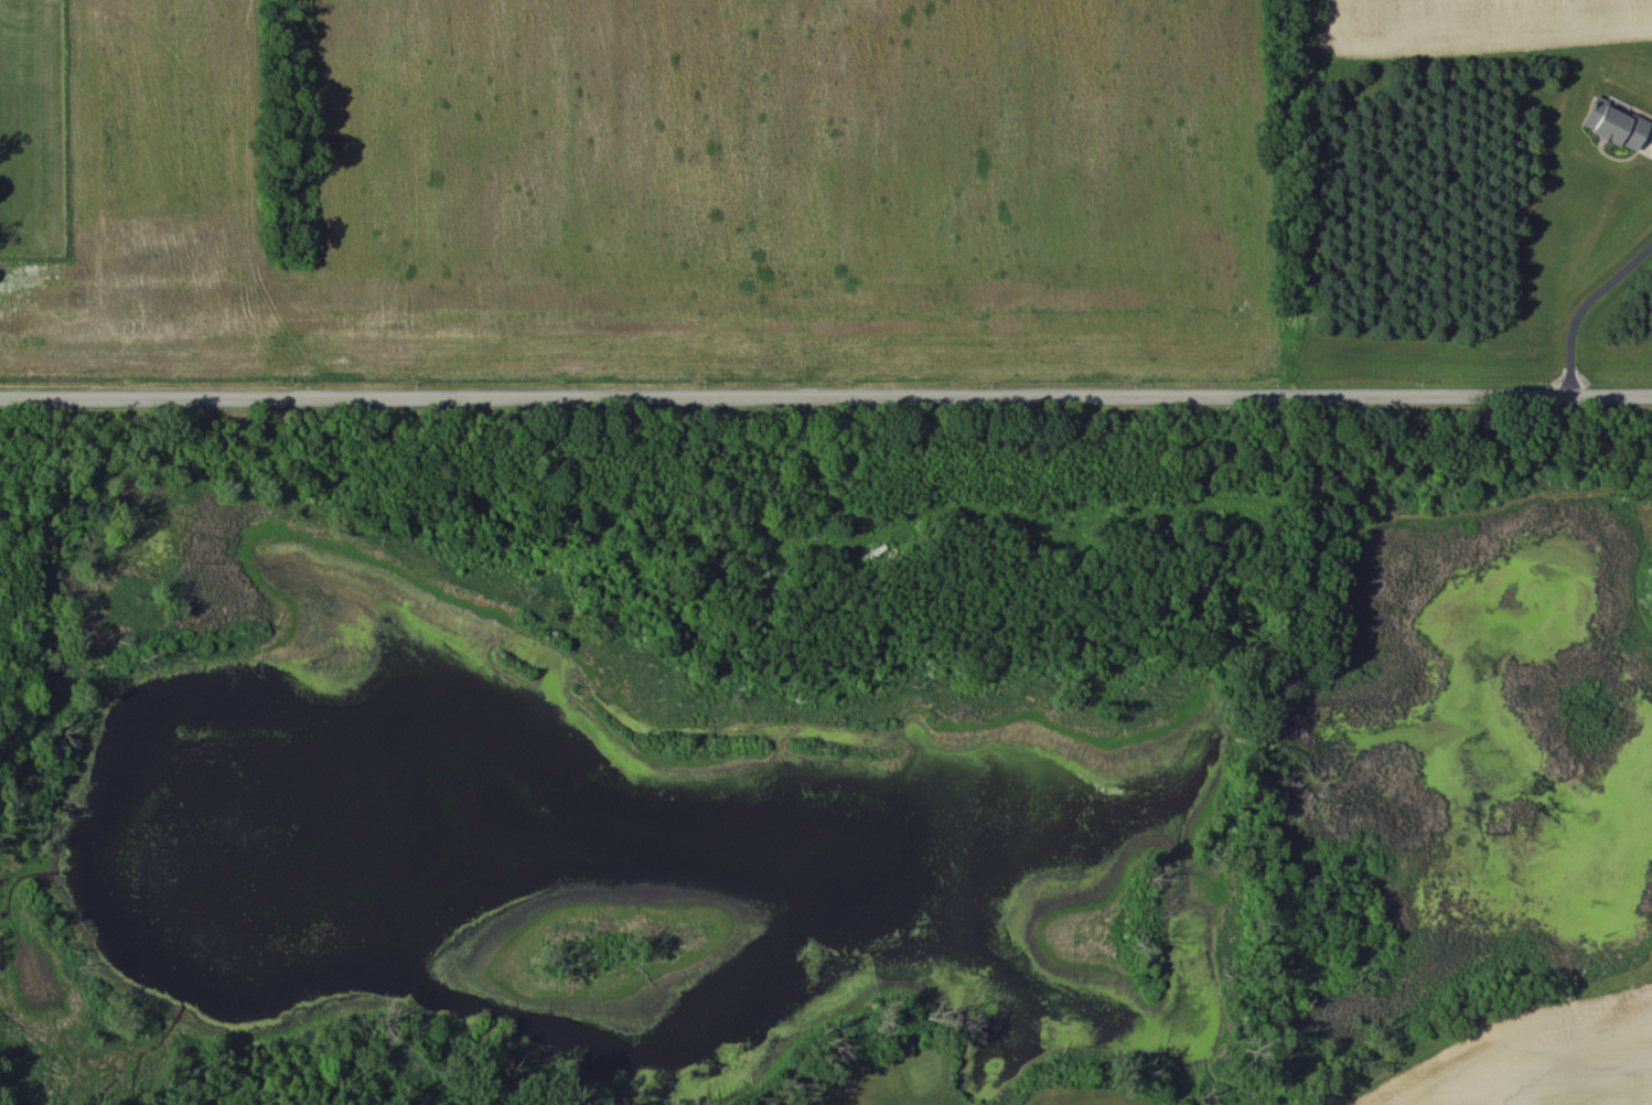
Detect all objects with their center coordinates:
building: (1615, 128)
road: (1580, 303)
road: (826, 404)

